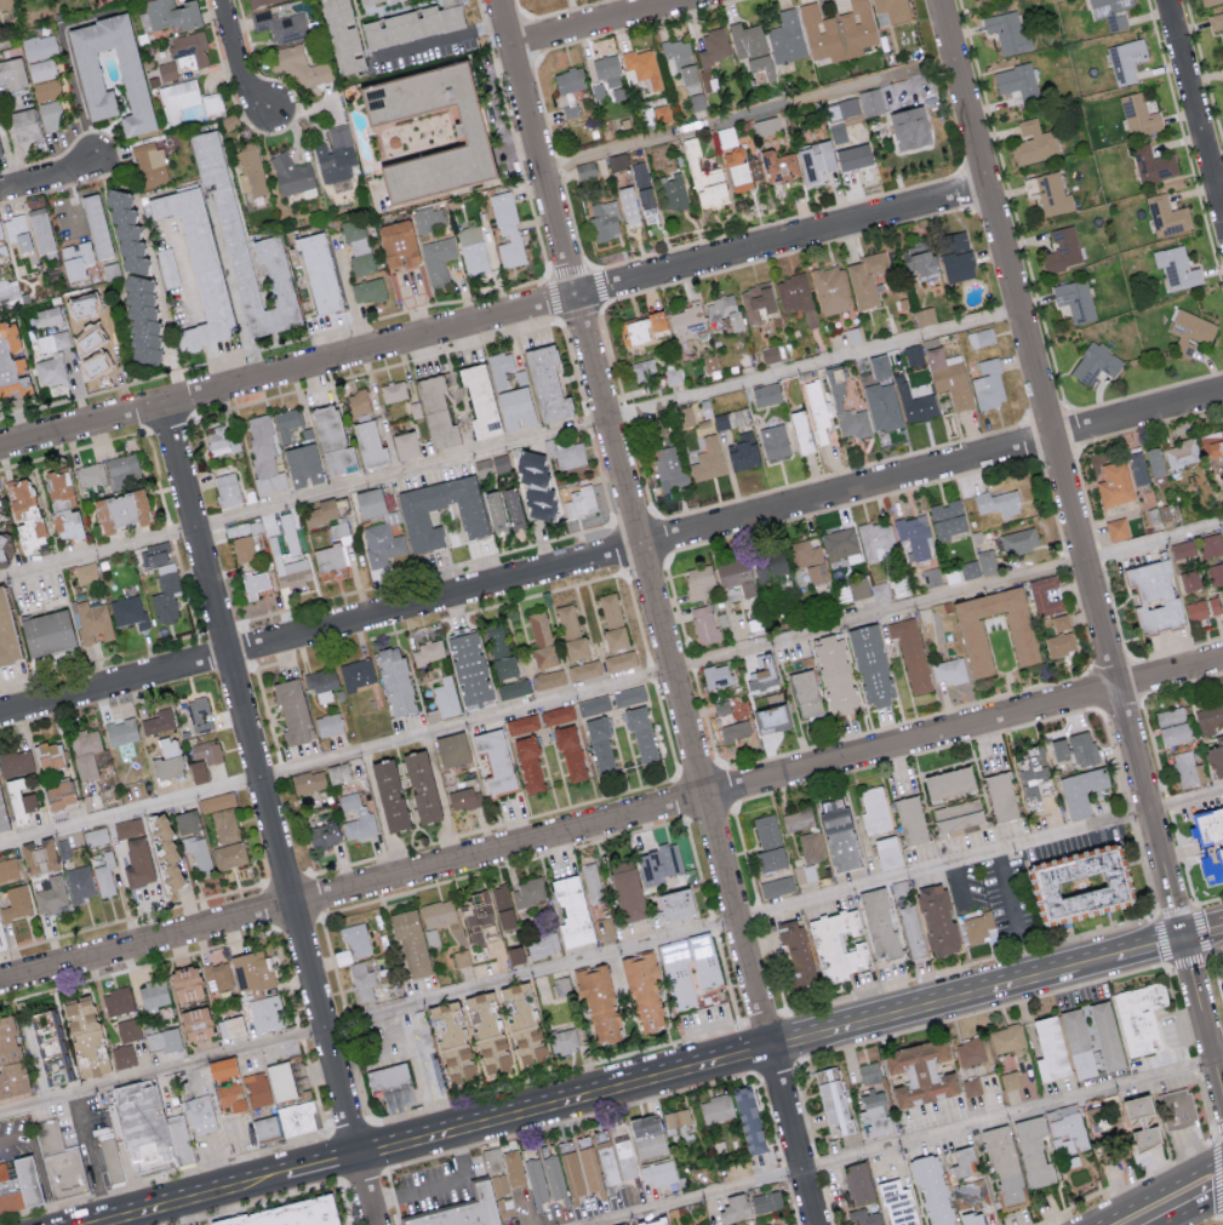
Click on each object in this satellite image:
building: (258, 1)
building: (1208, 1)
building: (394, 8)
building: (892, 8)
building: (1111, 12)
building: (171, 13)
building: (1216, 21)
building: (413, 24)
road: (605, 24)
building: (281, 25)
building: (857, 27)
building: (1007, 30)
building: (821, 33)
building: (343, 36)
building: (785, 38)
road: (439, 39)
building: (40, 46)
building: (189, 46)
building: (751, 50)
road: (240, 59)
building: (679, 59)
building: (1125, 59)
building: (299, 65)
building: (642, 67)
building: (42, 69)
building: (131, 69)
building: (166, 70)
building: (607, 70)
building: (12, 73)
building: (570, 78)
building: (1018, 80)
building: (47, 90)
building: (179, 96)
building: (212, 102)
building: (696, 102)
building: (870, 102)
road: (1195, 105)
building: (848, 107)
building: (193, 111)
building: (51, 114)
building: (661, 114)
building: (1138, 115)
road: (750, 116)
building: (23, 125)
building: (908, 128)
building: (476, 138)
building: (1033, 142)
building: (0, 154)
building: (335, 155)
building: (852, 156)
building: (618, 161)
building: (815, 161)
building: (149, 164)
building: (1153, 165)
building: (777, 166)
building: (585, 170)
road: (51, 171)
building: (737, 171)
building: (252, 173)
building: (292, 176)
building: (703, 178)
building: (641, 184)
building: (673, 191)
building: (1050, 193)
road: (73, 200)
building: (627, 205)
building: (1166, 216)
building: (605, 223)
building: (95, 225)
building: (40, 230)
building: (124, 231)
building: (17, 233)
building: (510, 235)
building: (434, 241)
building: (1, 245)
building: (400, 247)
building: (1062, 248)
building: (244, 252)
building: (474, 252)
building: (955, 256)
building: (75, 261)
building: (920, 261)
building: (198, 265)
building: (362, 265)
building: (167, 267)
building: (1176, 267)
building: (320, 275)
building: (865, 279)
road: (188, 286)
building: (830, 290)
building: (8, 291)
road: (349, 297)
building: (796, 297)
building: (1075, 299)
building: (756, 302)
building: (722, 311)
building: (925, 315)
building: (47, 316)
building: (139, 319)
road: (495, 319)
building: (688, 321)
building: (641, 327)
building: (1190, 331)
road: (202, 336)
building: (982, 337)
building: (770, 354)
building: (913, 355)
building: (88, 356)
building: (51, 359)
building: (1095, 364)
building: (499, 368)
road: (211, 370)
building: (644, 370)
building: (949, 377)
building: (544, 384)
building: (988, 384)
building: (393, 391)
building: (766, 394)
building: (479, 401)
building: (358, 402)
building: (915, 403)
road: (1045, 405)
building: (819, 406)
building: (514, 408)
building: (847, 411)
building: (435, 413)
building: (685, 416)
building: (885, 416)
building: (730, 419)
building: (286, 423)
building: (800, 431)
building: (219, 439)
building: (331, 441)
building: (773, 441)
building: (368, 445)
building: (404, 445)
building: (1212, 445)
road: (510, 448)
building: (743, 452)
building: (1181, 453)
building: (568, 456)
building: (263, 457)
building: (707, 460)
building: (1154, 462)
building: (302, 465)
building: (491, 466)
building: (669, 468)
building: (1136, 468)
building: (122, 469)
building: (90, 474)
building: (1114, 483)
building: (535, 486)
building: (227, 490)
building: (579, 502)
building: (368, 503)
building: (998, 503)
building: (61, 506)
building: (513, 509)
building: (118, 511)
building: (493, 511)
building: (320, 513)
building: (23, 514)
building: (472, 517)
building: (945, 520)
building: (241, 528)
building: (1116, 530)
building: (913, 538)
building: (876, 540)
building: (1018, 540)
building: (382, 544)
building: (840, 545)
building: (1211, 545)
building: (5, 548)
building: (242, 549)
building: (1183, 549)
road: (612, 555)
building: (152, 556)
building: (328, 557)
building: (808, 560)
building: (987, 561)
building: (768, 567)
building: (970, 569)
building: (291, 571)
building: (85, 573)
building: (1216, 573)
building: (735, 579)
building: (698, 580)
building: (1190, 580)
building: (253, 583)
building: (858, 588)
building: (165, 595)
building: (1045, 595)
building: (1154, 596)
building: (1202, 608)
building: (128, 611)
road: (659, 611)
building: (612, 620)
building: (93, 622)
building: (1061, 622)
building: (704, 624)
building: (539, 629)
building: (45, 632)
building: (571, 632)
building: (5, 636)
building: (973, 639)
building: (1059, 643)
building: (499, 651)
building: (427, 652)
building: (911, 653)
building: (543, 657)
building: (619, 660)
building: (870, 665)
building: (468, 669)
building: (584, 669)
building: (949, 670)
building: (356, 674)
building: (835, 675)
building: (716, 676)
building: (760, 677)
building: (549, 679)
building: (394, 682)
building: (321, 683)
road: (611, 685)
building: (513, 688)
building: (805, 693)
building: (628, 695)
building: (445, 697)
building: (594, 705)
building: (291, 712)
building: (558, 714)
building: (199, 715)
building: (772, 719)
building: (1207, 719)
building: (159, 721)
building: (327, 725)
building: (522, 725)
building: (1172, 726)
building: (735, 731)
building: (121, 732)
building: (640, 732)
building: (600, 745)
building: (1075, 748)
building: (451, 750)
building: (207, 751)
building: (85, 752)
building: (570, 754)
building: (47, 756)
building: (1216, 756)
building: (166, 760)
building: (497, 760)
building: (16, 763)
building: (528, 765)
building: (1189, 769)
building: (196, 772)
building: (337, 773)
building: (308, 782)
building: (948, 782)
building: (419, 788)
building: (1080, 789)
building: (1000, 795)
building: (57, 796)
building: (388, 796)
building: (18, 797)
road: (441, 798)
building: (464, 798)
building: (217, 801)
building: (874, 808)
building: (958, 814)
road: (270, 815)
building: (356, 818)
building: (798, 818)
building: (909, 818)
building: (1, 822)
road: (611, 822)
building: (185, 823)
building: (224, 825)
building: (128, 828)
building: (766, 830)
building: (322, 835)
building: (95, 836)
building: (839, 837)
building: (1217, 841)
building: (811, 846)
building: (887, 851)
building: (165, 852)
building: (198, 853)
building: (230, 854)
building: (38, 857)
building: (669, 858)
building: (770, 858)
building: (137, 864)
building: (8, 869)
road: (1165, 874)
building: (1090, 877)
building: (104, 880)
building: (80, 883)
building: (777, 885)
building: (964, 886)
building: (627, 889)
building: (527, 891)
building: (52, 894)
road: (1208, 900)
building: (16, 903)
building: (674, 903)
building: (502, 905)
road: (1194, 905)
building: (571, 911)
building: (438, 912)
road: (1013, 915)
building: (936, 917)
building: (478, 921)
building: (878, 922)
building: (981, 927)
building: (911, 931)
road: (1201, 932)
building: (356, 938)
traffic signals: (1181, 938)
building: (410, 941)
building: (542, 943)
building: (838, 944)
road: (1148, 946)
road: (1213, 950)
road: (611, 952)
building: (514, 954)
building: (802, 954)
building: (461, 957)
road: (1095, 961)
road: (970, 963)
building: (251, 971)
building: (676, 972)
building: (218, 974)
road: (1217, 977)
building: (361, 980)
building: (183, 981)
building: (561, 985)
building: (641, 989)
building: (153, 994)
road: (1196, 1000)
building: (118, 1001)
building: (598, 1003)
road: (931, 1003)
building: (481, 1012)
road: (981, 1012)
building: (265, 1013)
building: (1139, 1015)
road: (762, 1019)
building: (521, 1021)
building: (194, 1023)
building: (232, 1025)
building: (128, 1029)
building: (448, 1032)
building: (84, 1035)
road: (393, 1035)
building: (1105, 1035)
building: (1006, 1037)
building: (164, 1038)
building: (562, 1040)
building: (1076, 1042)
road: (771, 1047)
building: (47, 1048)
building: (1048, 1048)
building: (970, 1051)
building: (491, 1052)
building: (124, 1055)
building: (10, 1059)
building: (227, 1064)
road: (1191, 1064)
road: (777, 1067)
building: (927, 1067)
building: (869, 1071)
road: (558, 1074)
building: (393, 1076)
road: (1218, 1077)
building: (1010, 1080)
building: (285, 1081)
building: (971, 1086)
building: (261, 1092)
building: (235, 1098)
building: (839, 1099)
road: (565, 1101)
building: (715, 1109)
building: (1177, 1111)
building: (199, 1114)
building: (874, 1114)
road: (587, 1115)
building: (302, 1117)
building: (676, 1118)
building: (747, 1118)
building: (145, 1121)
building: (1142, 1123)
building: (1070, 1126)
building: (270, 1127)
building: (646, 1134)
building: (183, 1141)
road: (909, 1144)
road: (241, 1150)
building: (1031, 1150)
road: (368, 1154)
building: (625, 1156)
road: (92, 1157)
building: (114, 1160)
building: (492, 1160)
road: (891, 1160)
building: (608, 1161)
road: (818, 1163)
building: (1004, 1163)
building: (62, 1164)
road: (215, 1164)
road: (322, 1166)
road: (39, 1167)
building: (514, 1167)
building: (581, 1168)
road: (1158, 1170)
road: (785, 1172)
building: (658, 1173)
road: (1218, 1173)
building: (554, 1177)
building: (536, 1179)
road: (264, 1181)
building: (857, 1181)
building: (29, 1183)
building: (502, 1184)
road: (441, 1185)
building: (8, 1189)
building: (931, 1189)
road: (1156, 1190)
road: (827, 1200)
building: (765, 1201)
building: (897, 1202)
road: (793, 1203)
road: (168, 1206)
building: (733, 1207)
building: (468, 1208)
road: (1194, 1209)
road: (528, 1210)
building: (291, 1212)
road: (187, 1213)
building: (864, 1217)
building: (970, 1218)
building: (651, 1220)
building: (624, 1224)

